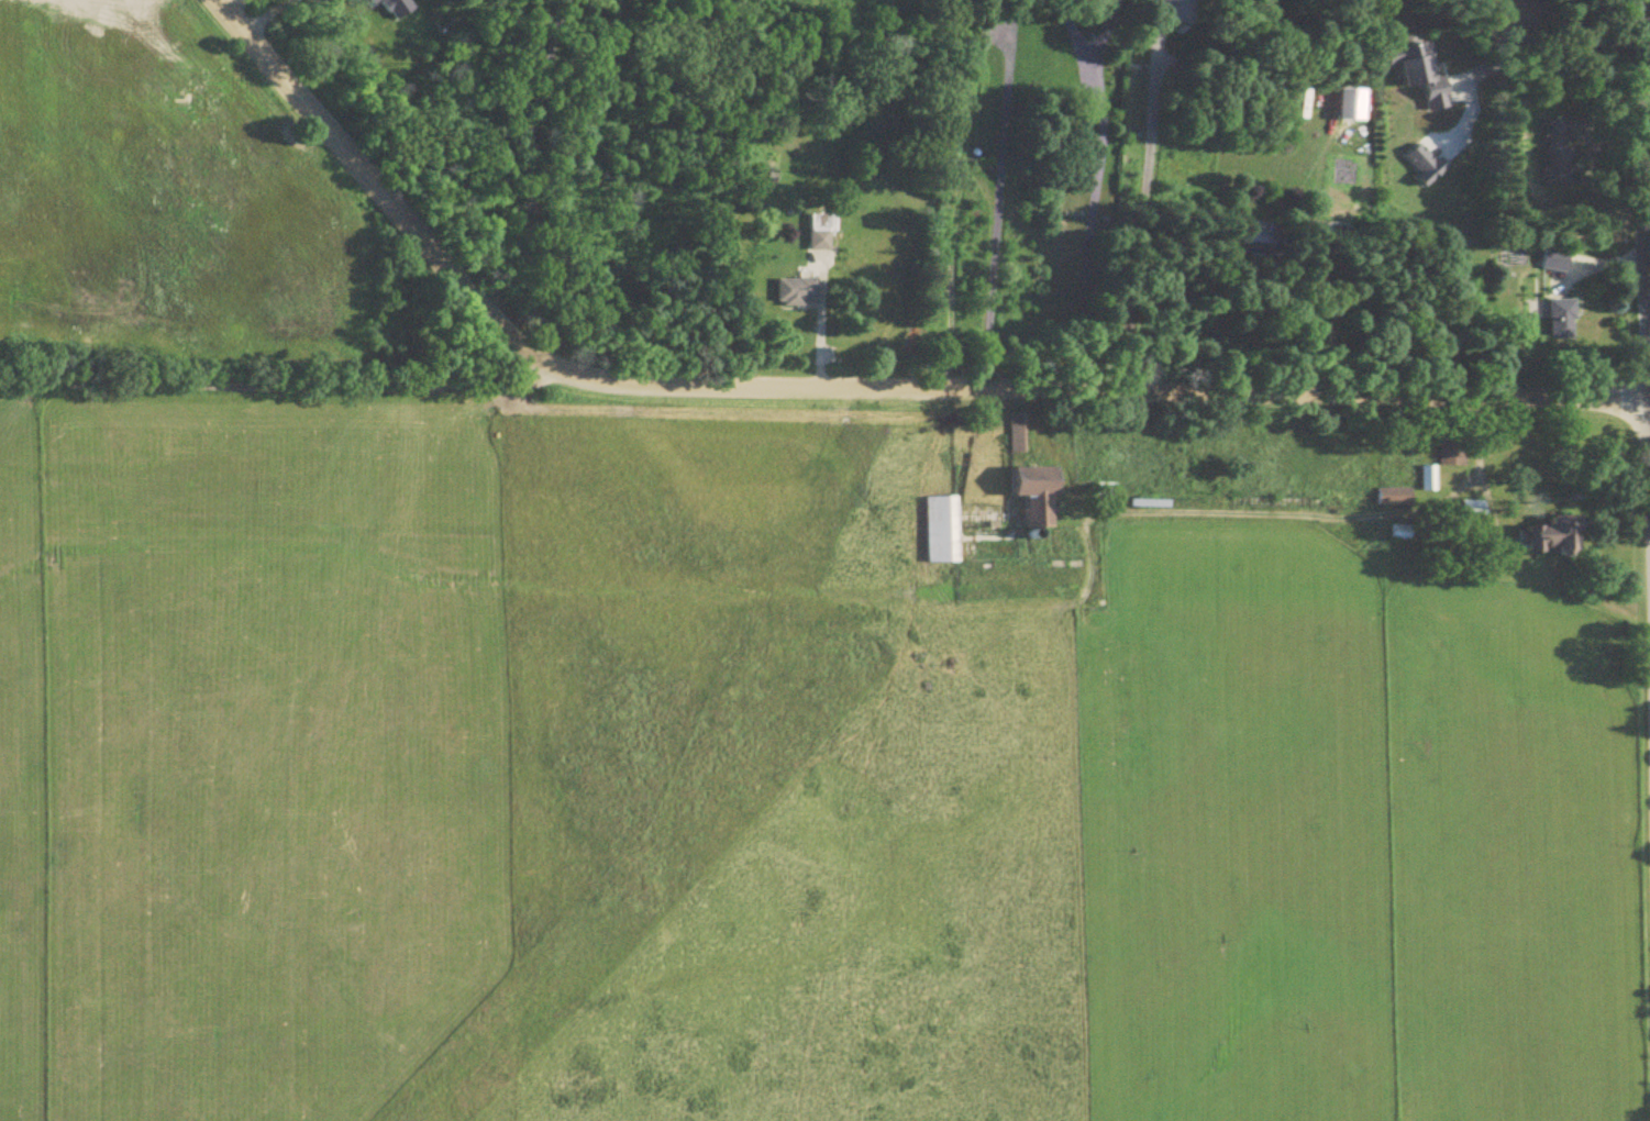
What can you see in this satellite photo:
road: (234, 5)
road: (265, 14)
road: (1547, 60)
building: (1551, 153)
road: (530, 180)
road: (1093, 193)
road: (996, 195)
road: (1147, 215)
building: (823, 233)
building: (1243, 243)
building: (1548, 262)
building: (798, 293)
road: (1329, 304)
road: (1647, 314)
building: (1554, 320)
road: (279, 376)
road: (846, 387)
building: (1014, 433)
building: (1424, 478)
building: (1100, 489)
building: (1389, 497)
building: (1025, 498)
building: (1465, 513)
building: (937, 530)
building: (1396, 533)
building: (1542, 537)
crop: (765, 783)

